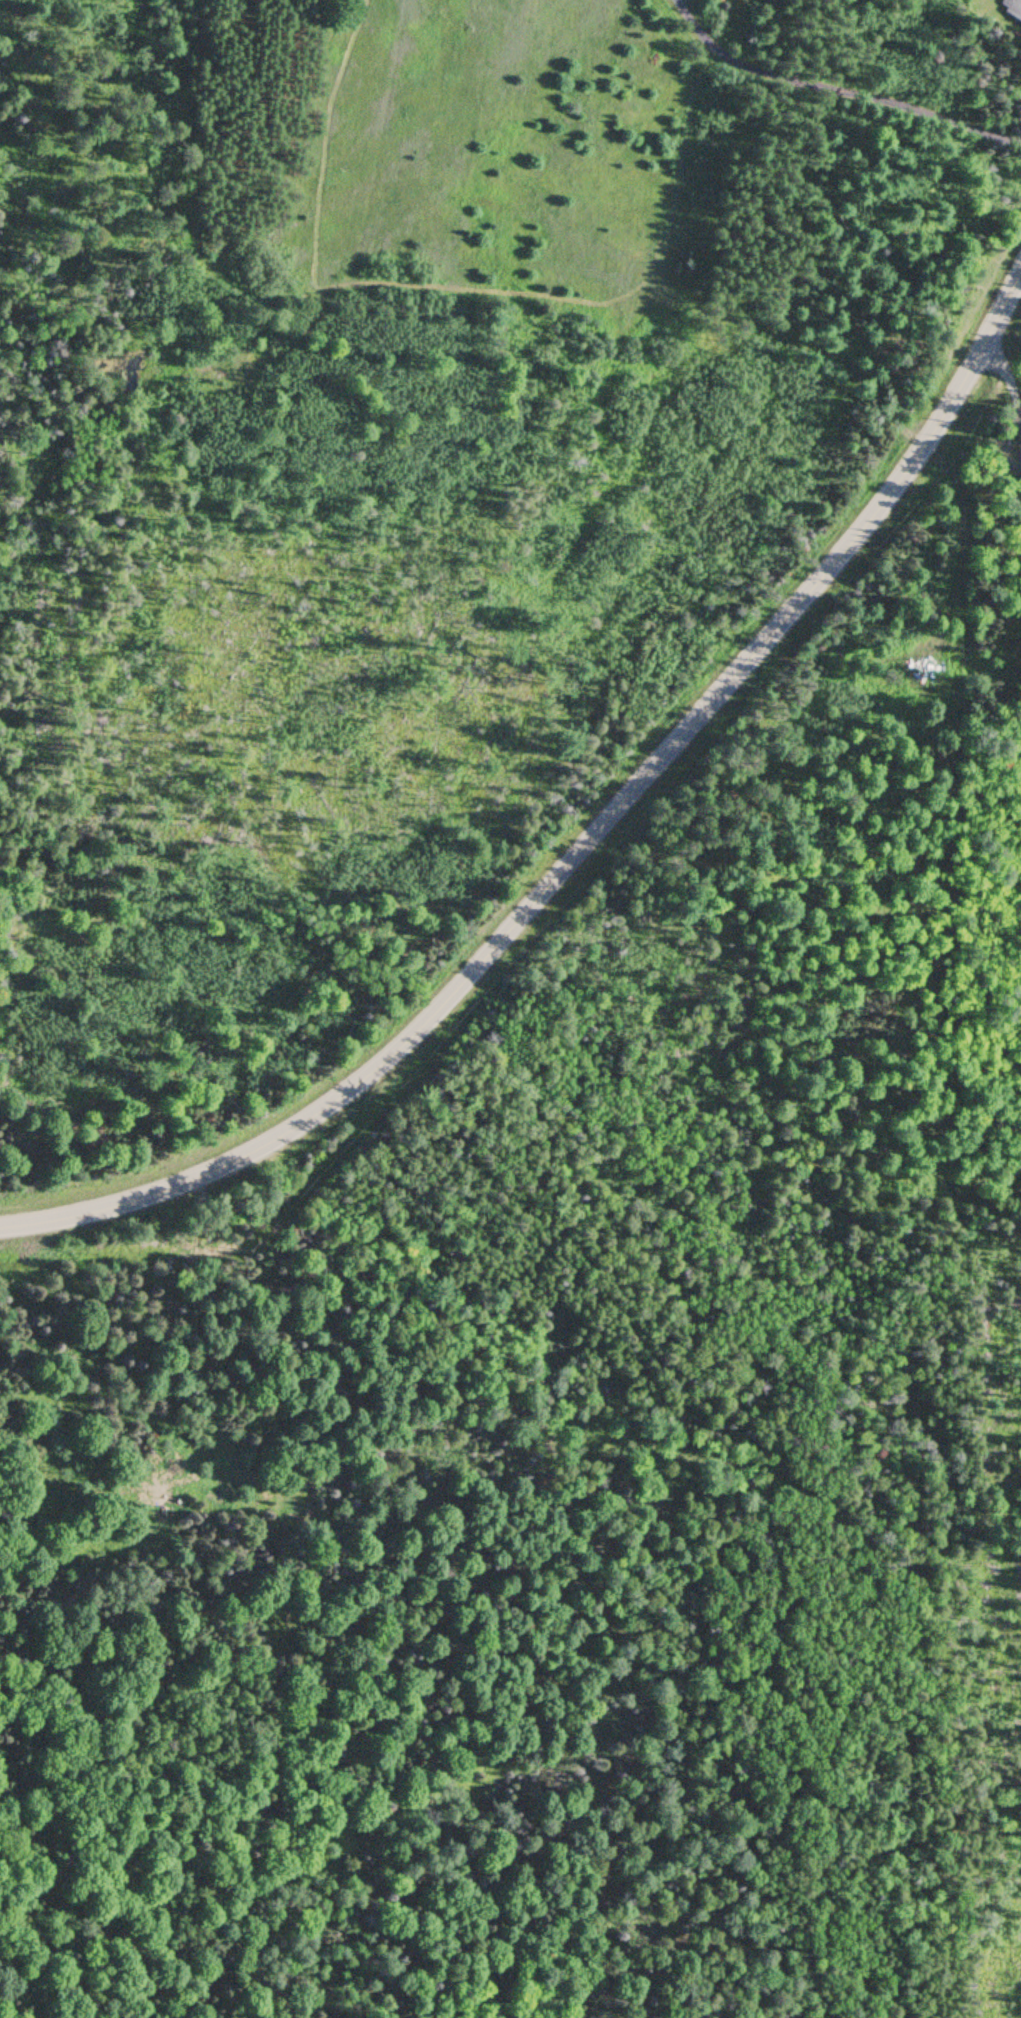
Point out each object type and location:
building: (1010, 9)
road: (837, 89)
road: (1014, 407)
road: (584, 846)

